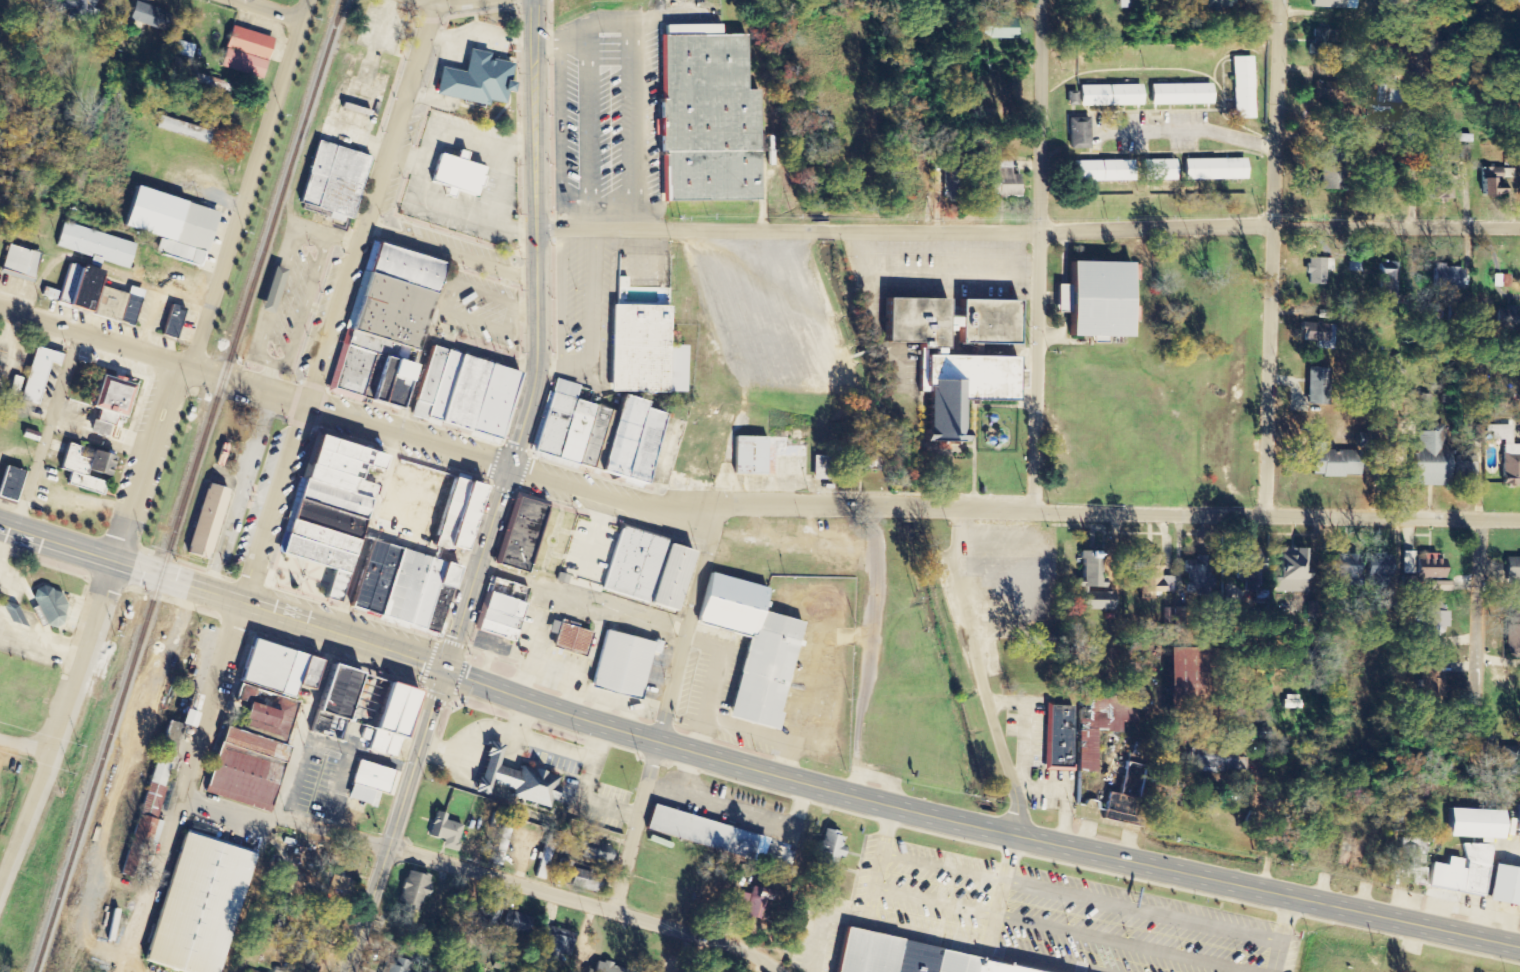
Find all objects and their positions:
building: (1125, 3)
building: (74, 8)
road: (274, 9)
road: (303, 9)
building: (147, 16)
building: (996, 28)
building: (1321, 40)
building: (247, 43)
building: (177, 48)
building: (241, 64)
building: (474, 81)
building: (1243, 88)
building: (1180, 94)
building: (1109, 96)
building: (1387, 101)
road: (1415, 112)
building: (705, 121)
building: (183, 129)
building: (1077, 133)
building: (1465, 154)
building: (1213, 169)
building: (1157, 170)
building: (1101, 171)
building: (1331, 171)
building: (455, 176)
building: (949, 180)
building: (332, 181)
building: (1003, 181)
building: (1492, 181)
building: (1441, 190)
building: (169, 225)
road: (1028, 225)
road: (341, 235)
road: (312, 238)
building: (95, 246)
road: (450, 251)
road: (1041, 257)
road: (1272, 258)
building: (18, 263)
building: (1356, 264)
building: (1317, 270)
building: (1445, 277)
building: (1387, 279)
building: (269, 291)
building: (48, 294)
building: (95, 296)
road: (275, 300)
road: (339, 301)
building: (1093, 301)
road: (303, 307)
building: (1506, 316)
building: (170, 322)
building: (383, 326)
road: (95, 335)
building: (1320, 336)
road: (537, 341)
building: (642, 353)
building: (954, 361)
building: (34, 375)
road: (268, 376)
road: (248, 384)
building: (12, 387)
building: (1317, 387)
building: (462, 394)
building: (108, 400)
building: (568, 427)
road: (48, 430)
building: (29, 435)
building: (629, 442)
building: (1507, 455)
building: (748, 456)
road: (155, 457)
building: (1428, 459)
building: (71, 461)
building: (864, 462)
building: (1333, 462)
building: (96, 465)
building: (8, 484)
building: (82, 484)
railway: (187, 486)
road: (615, 497)
building: (327, 511)
building: (446, 515)
road: (1227, 516)
building: (460, 520)
building: (204, 522)
building: (519, 536)
road: (57, 543)
building: (632, 565)
building: (1089, 568)
building: (1343, 569)
building: (1377, 569)
building: (1511, 569)
building: (1291, 570)
building: (1427, 572)
building: (444, 575)
building: (1149, 575)
building: (366, 576)
building: (667, 579)
building: (1197, 579)
building: (380, 580)
road: (525, 582)
building: (401, 588)
building: (1241, 589)
building: (423, 595)
building: (1093, 597)
building: (48, 607)
building: (502, 607)
building: (435, 610)
road: (338, 612)
building: (11, 615)
building: (1432, 615)
building: (497, 620)
road: (1477, 626)
building: (494, 631)
building: (1512, 633)
building: (1041, 638)
building: (567, 640)
building: (750, 649)
building: (620, 665)
traffic signals: (443, 669)
road: (981, 673)
building: (1180, 674)
building: (1430, 679)
road: (710, 680)
building: (333, 691)
building: (1290, 702)
road: (664, 708)
road: (519, 716)
building: (386, 720)
building: (1099, 723)
building: (258, 726)
road: (760, 735)
building: (1058, 738)
road: (466, 742)
road: (28, 743)
road: (569, 749)
building: (1212, 758)
building: (1508, 759)
building: (513, 779)
road: (810, 781)
building: (369, 783)
building: (156, 784)
road: (181, 787)
road: (589, 799)
building: (1120, 804)
building: (1517, 819)
road: (396, 820)
building: (1474, 823)
building: (443, 831)
building: (700, 832)
building: (500, 844)
building: (826, 849)
road: (771, 851)
building: (595, 852)
building: (545, 856)
building: (1414, 860)
building: (1462, 871)
road: (480, 874)
building: (580, 877)
building: (1503, 886)
building: (339, 890)
building: (411, 890)
road: (1001, 892)
road: (1080, 895)
building: (751, 903)
building: (195, 906)
building: (480, 921)
building: (515, 922)
road: (1063, 929)
road: (917, 933)
road: (1280, 933)
building: (554, 943)
building: (865, 953)
building: (913, 958)
building: (946, 961)
building: (967, 964)
building: (398, 965)
building: (996, 967)
building: (604, 968)

